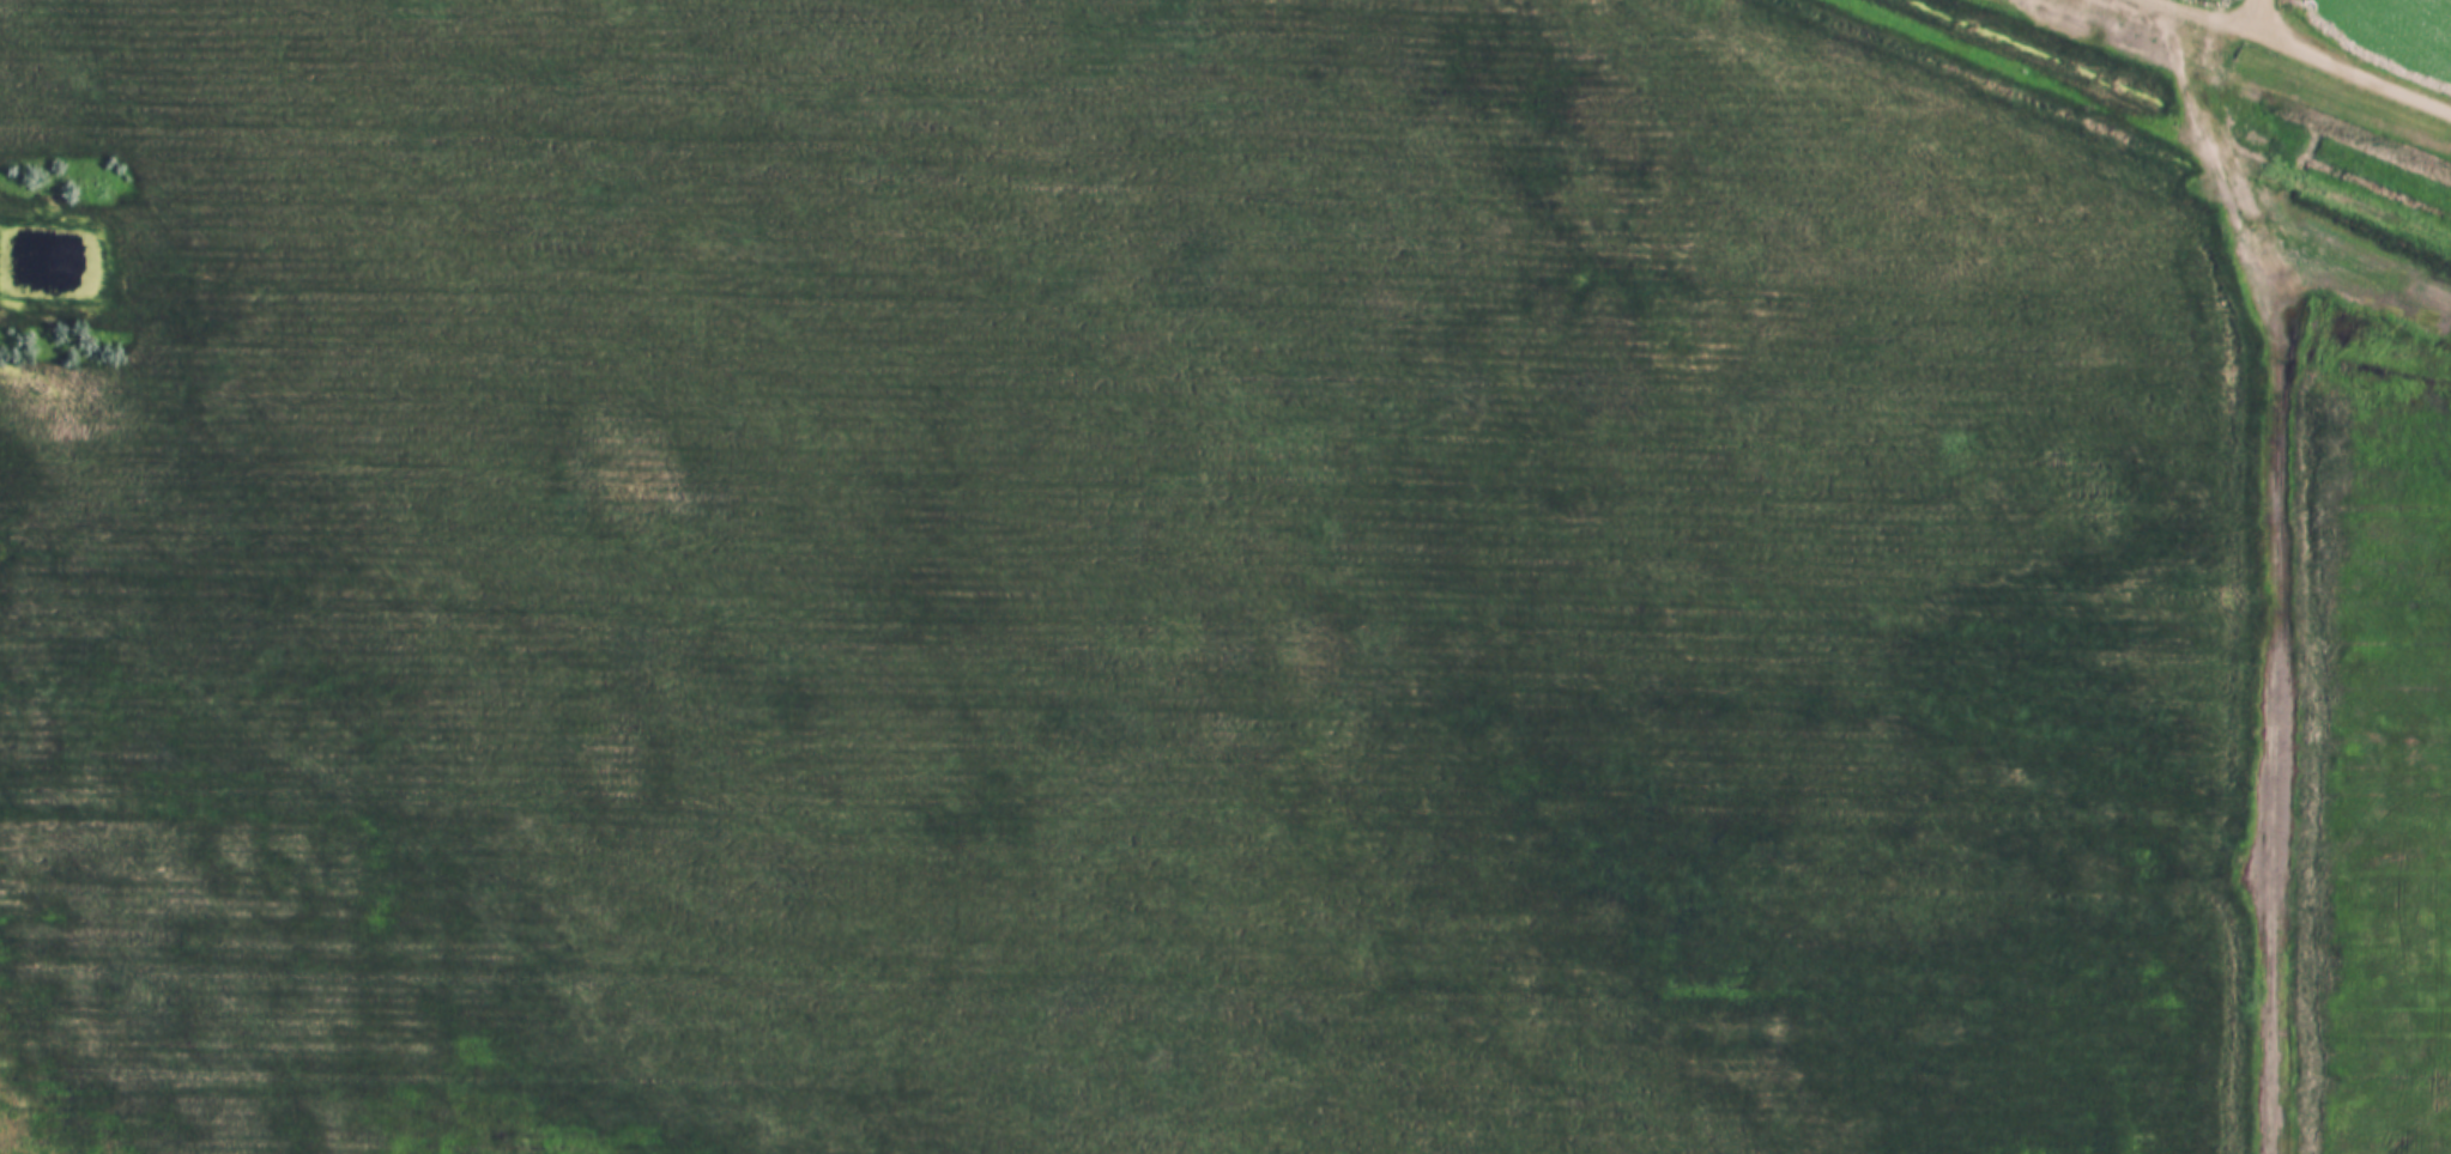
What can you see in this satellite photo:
road: (2264, 20)
road: (2287, 49)
road: (2277, 578)
airport: (1110, 579)

